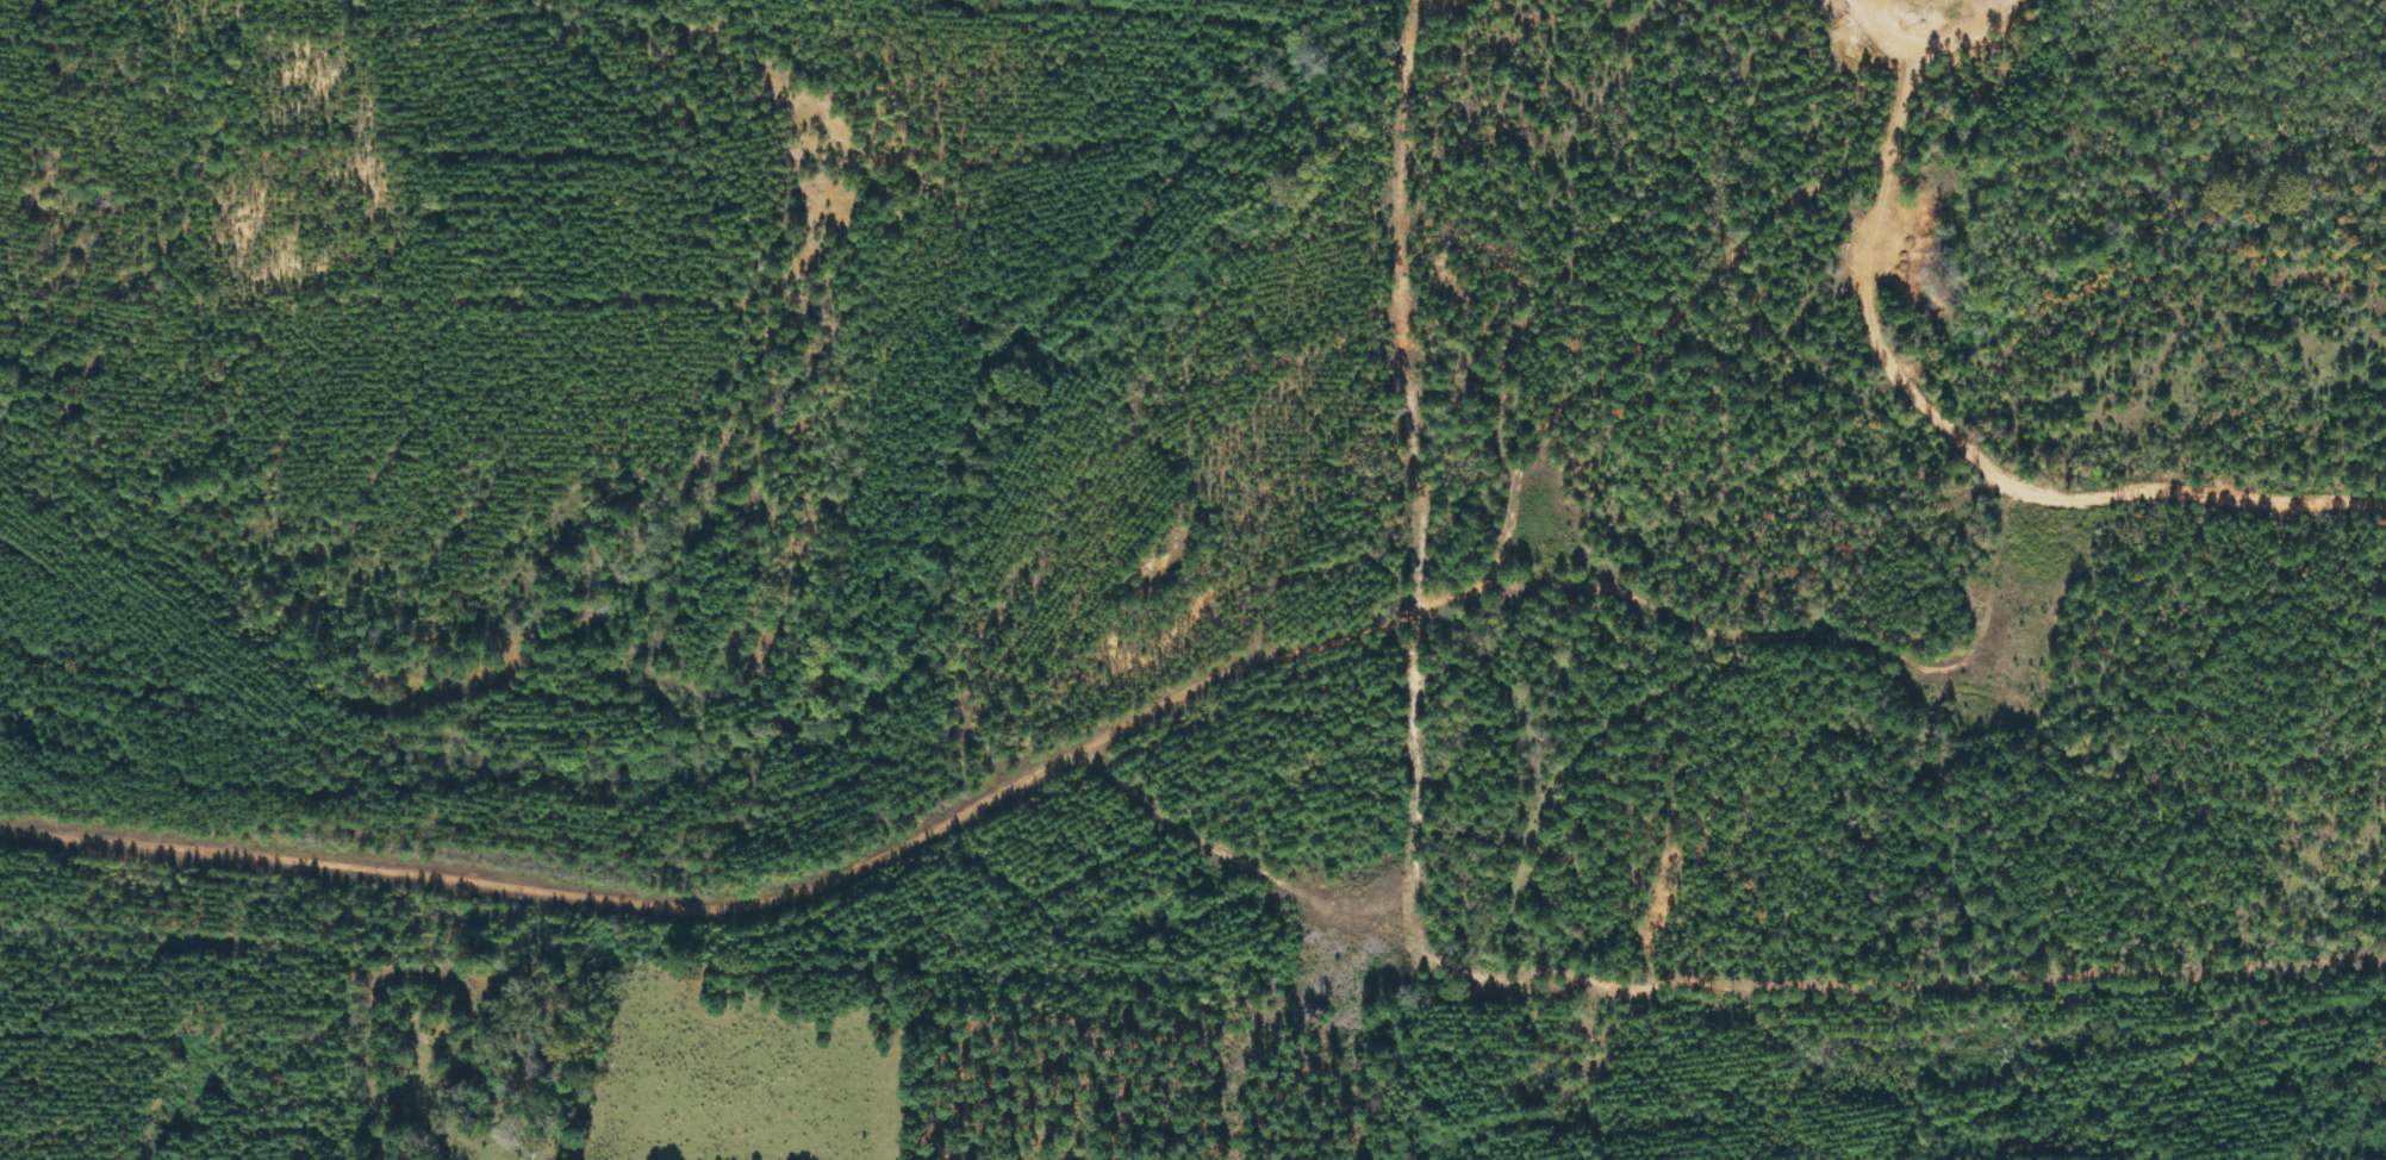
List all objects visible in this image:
road: (2367, 511)

